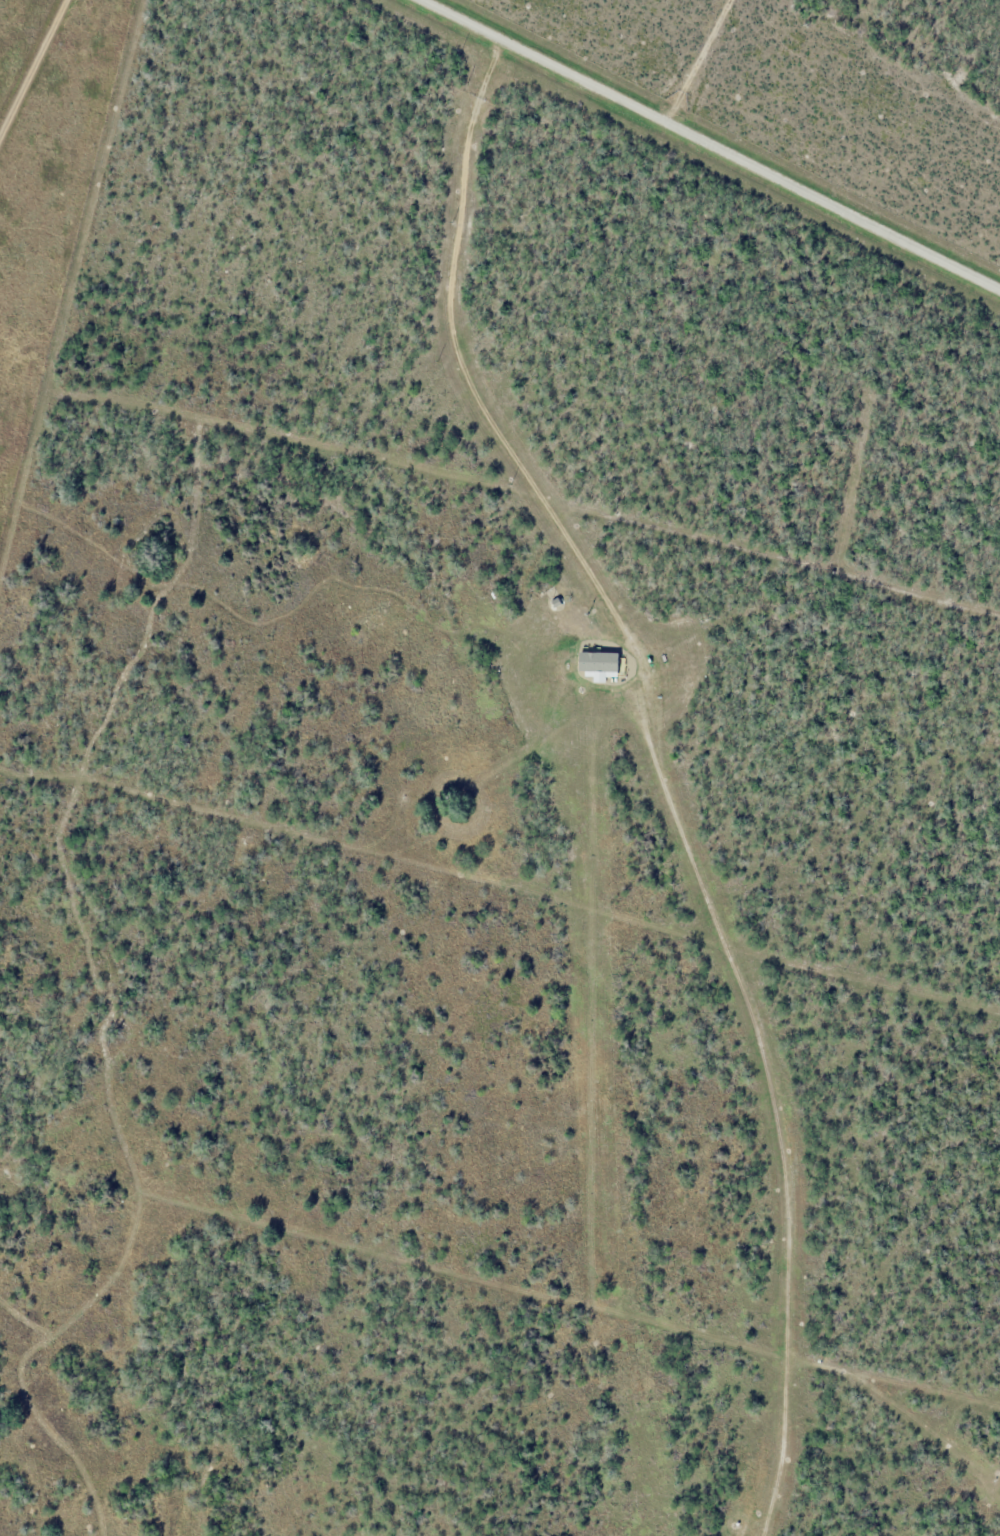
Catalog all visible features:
road: (49, 98)
road: (716, 142)

